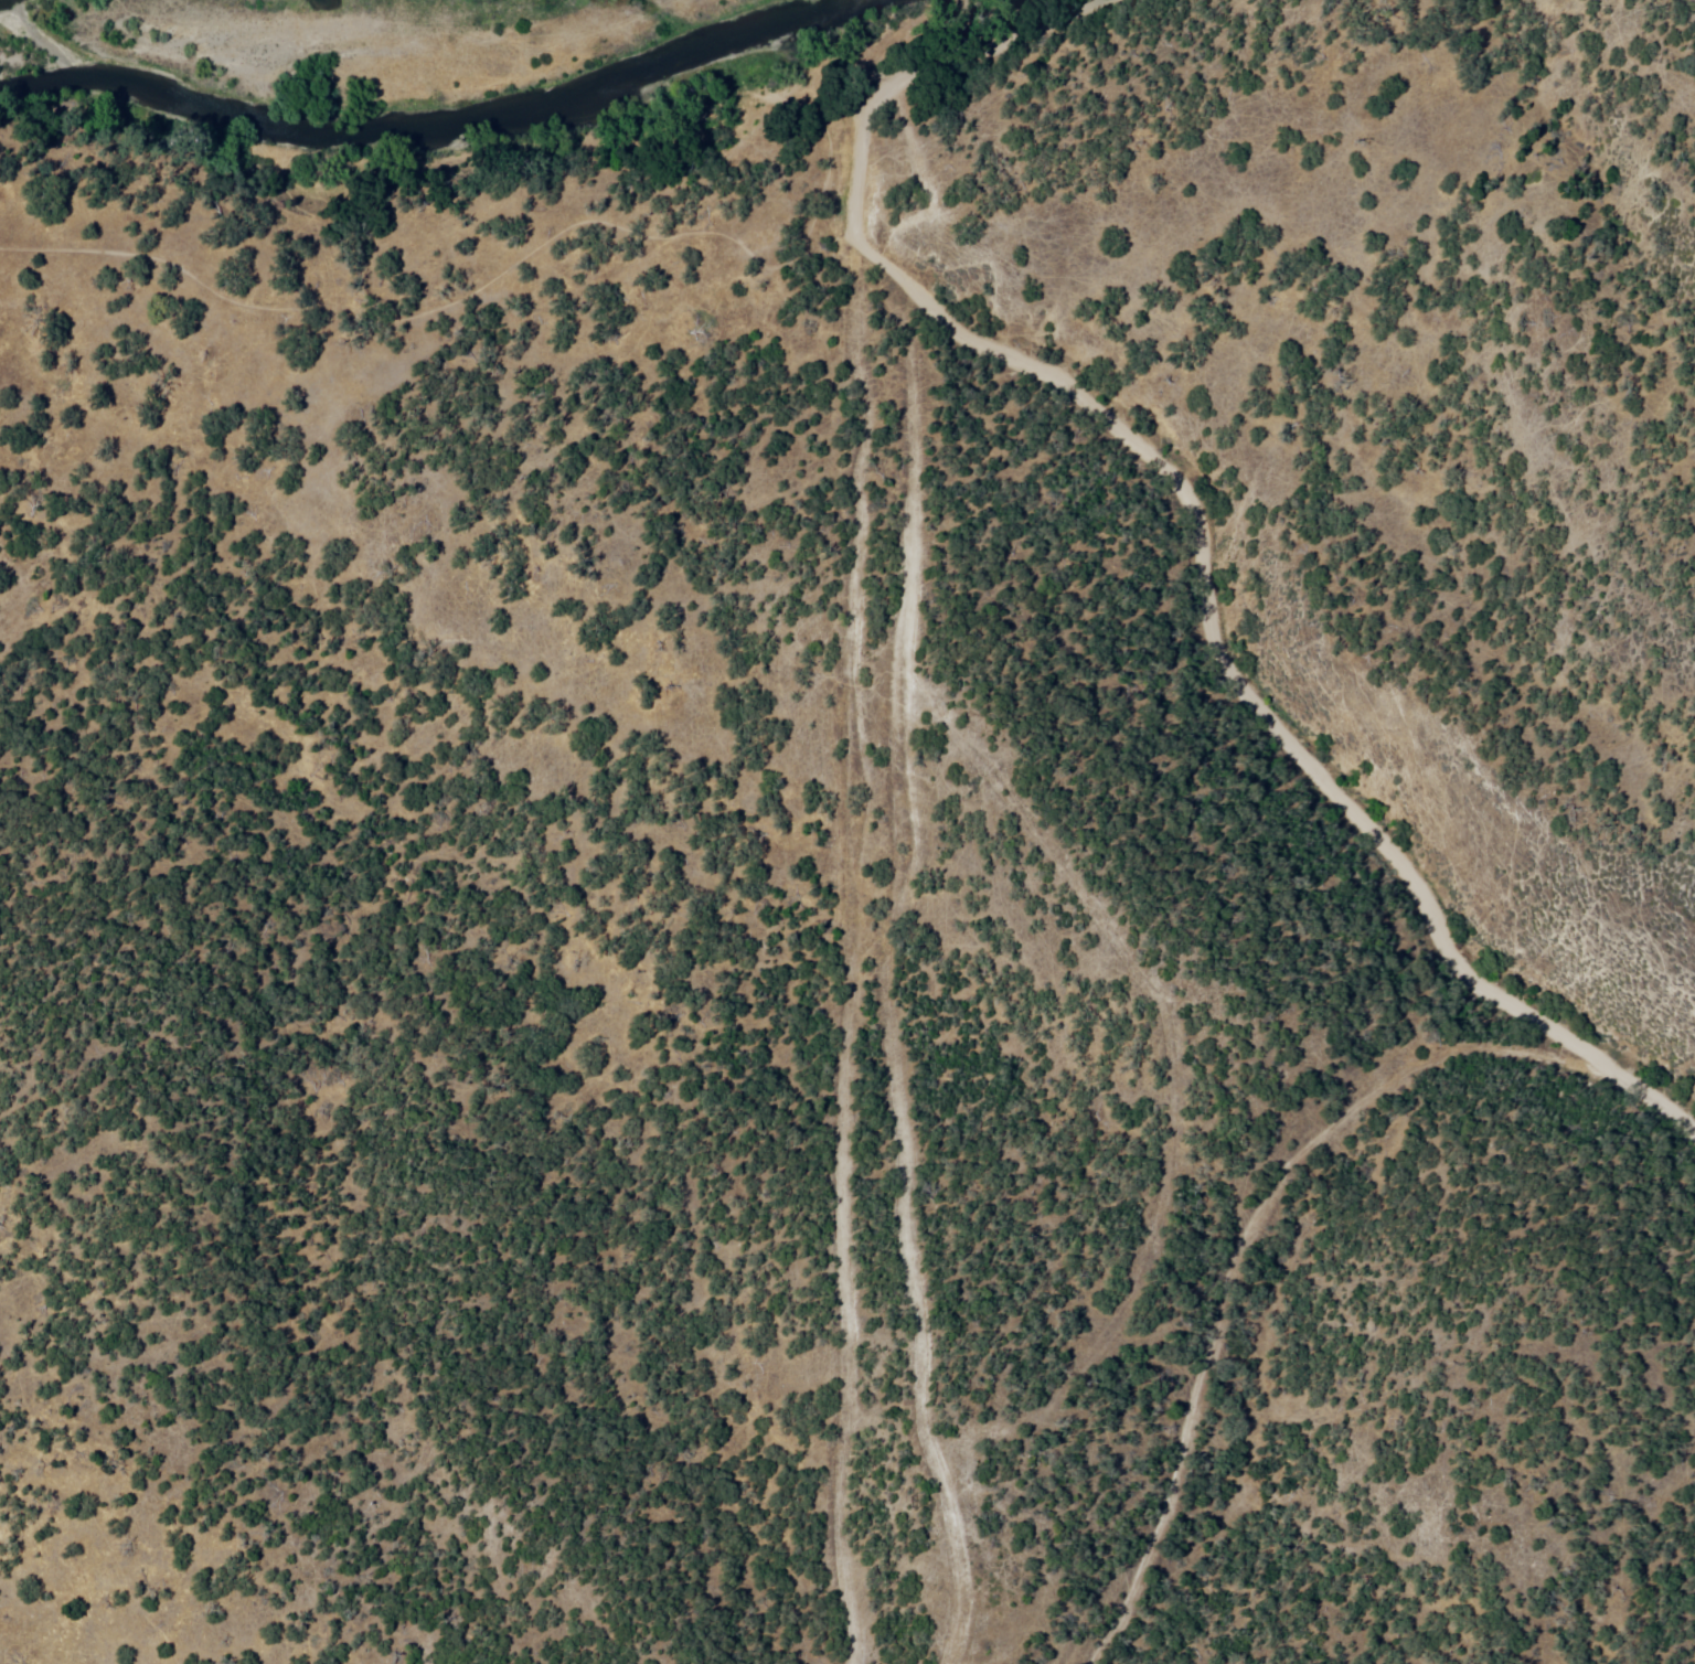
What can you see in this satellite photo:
river: (714, 42)
river: (289, 124)
road: (1188, 494)

